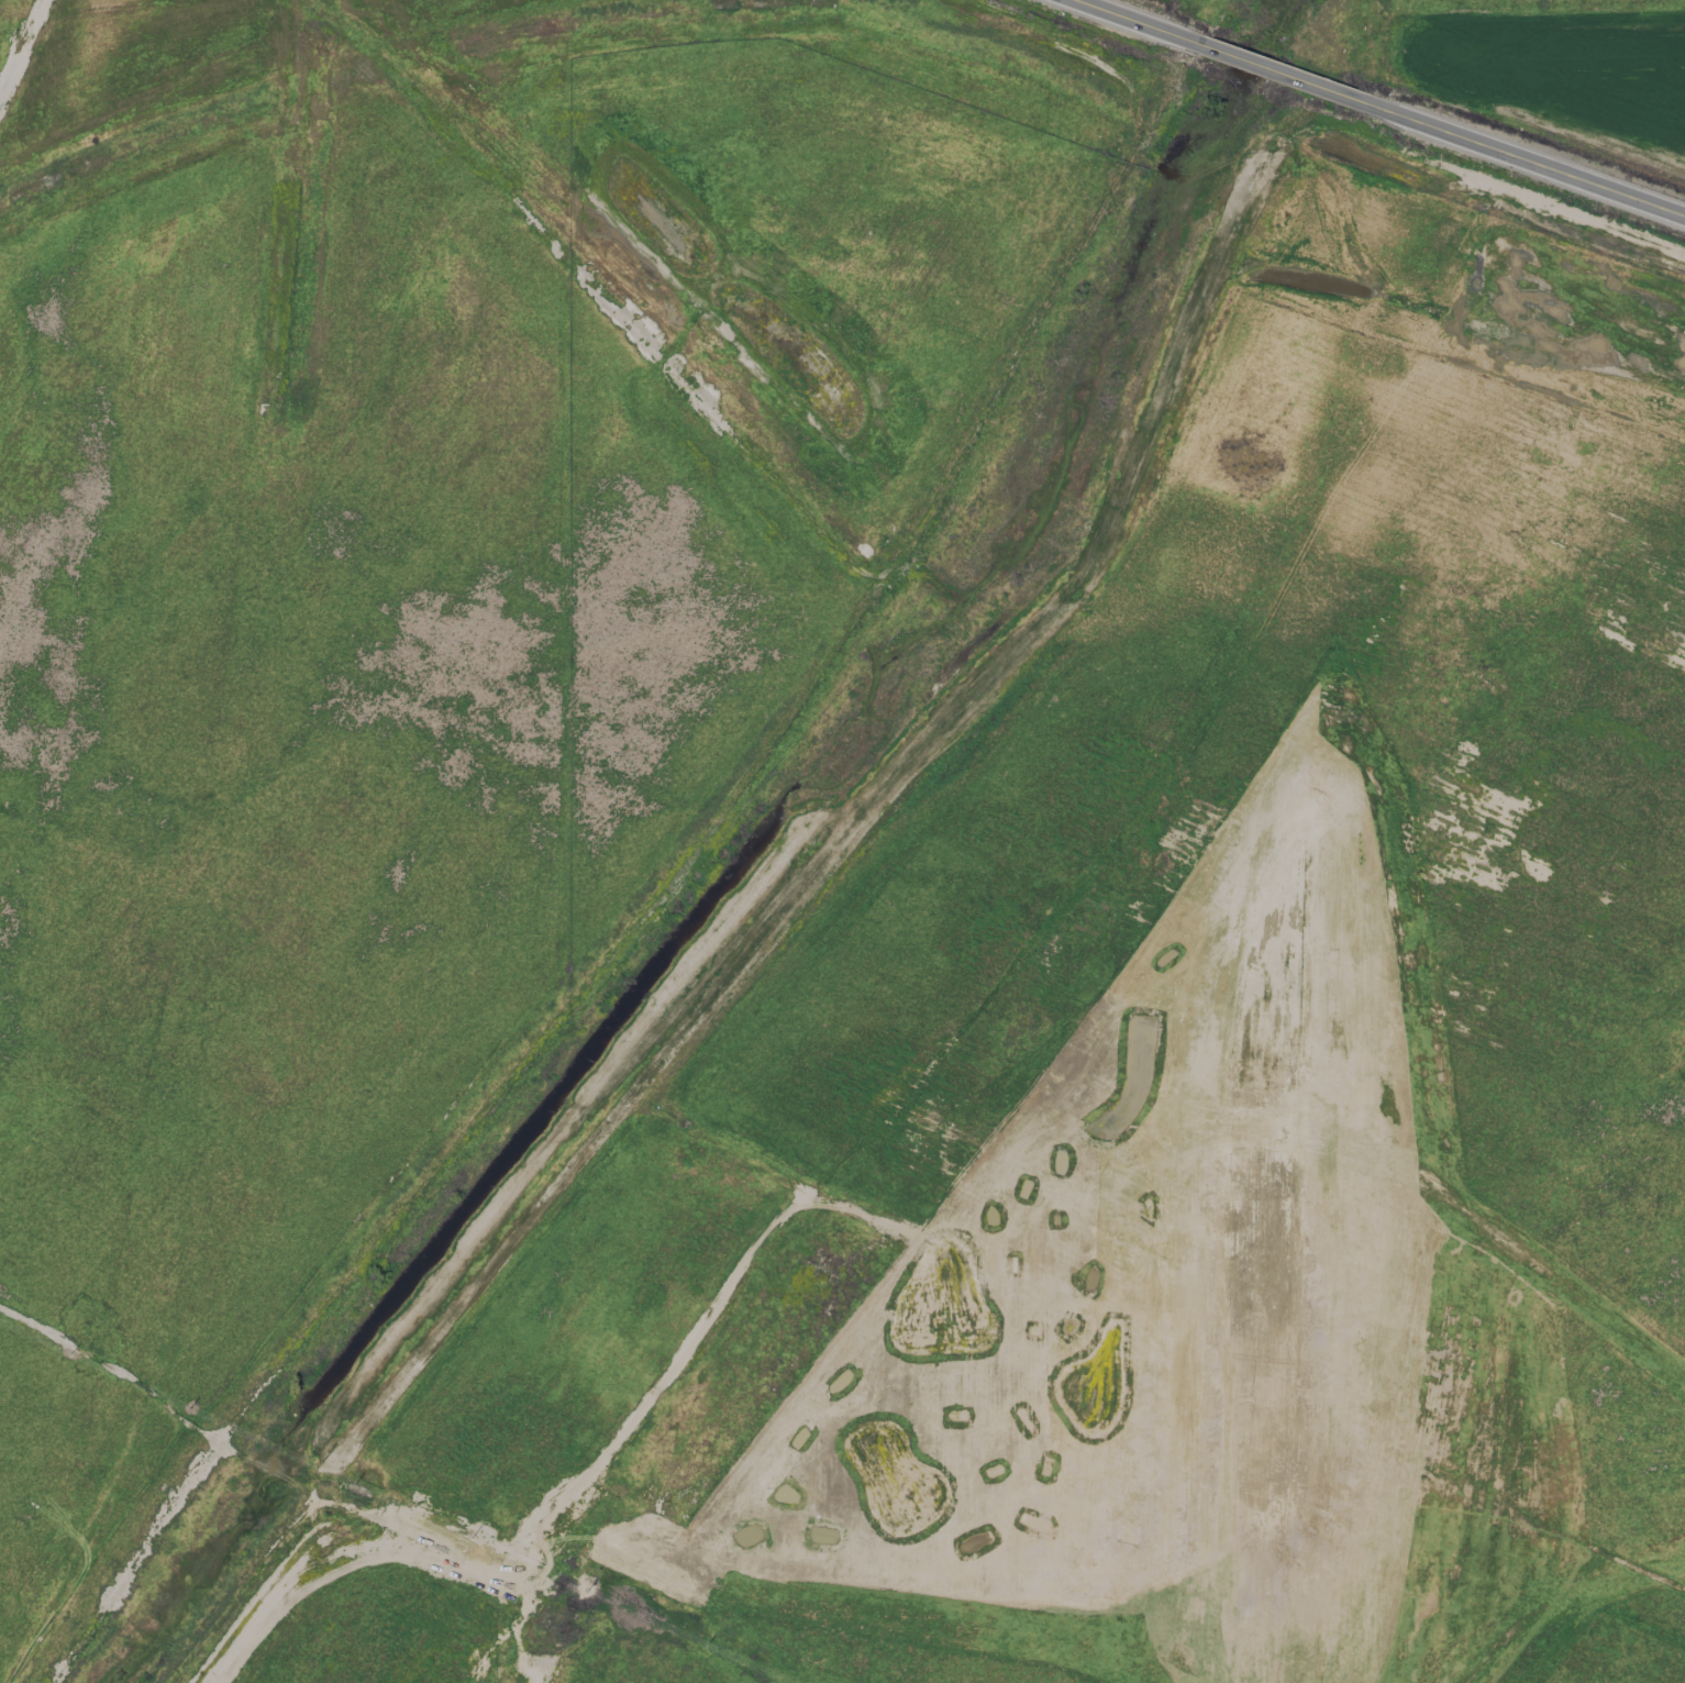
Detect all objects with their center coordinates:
road: (1135, 19)
road: (1268, 64)
road: (1516, 152)
river: (747, 856)

